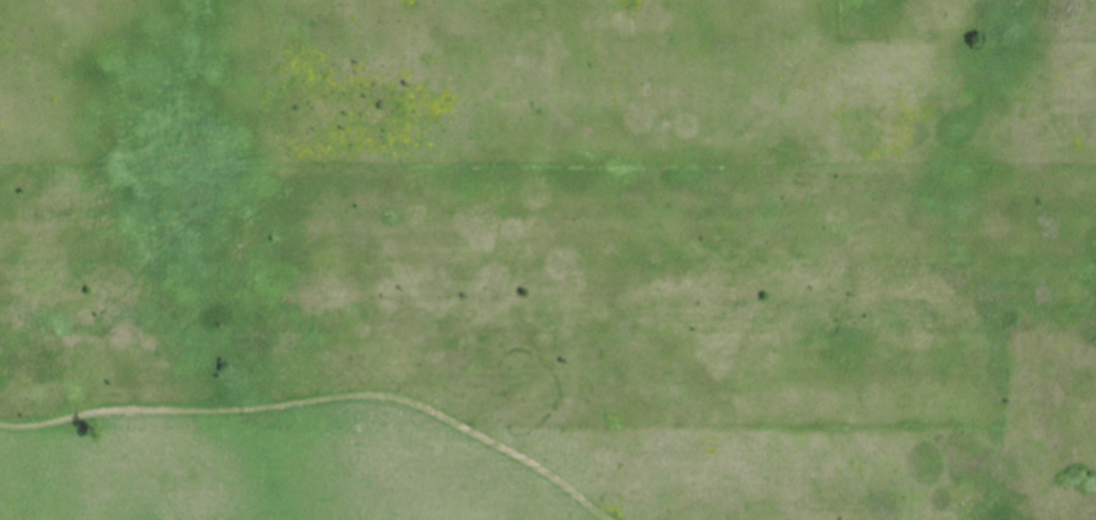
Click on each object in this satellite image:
park: (547, 259)
road: (324, 396)

